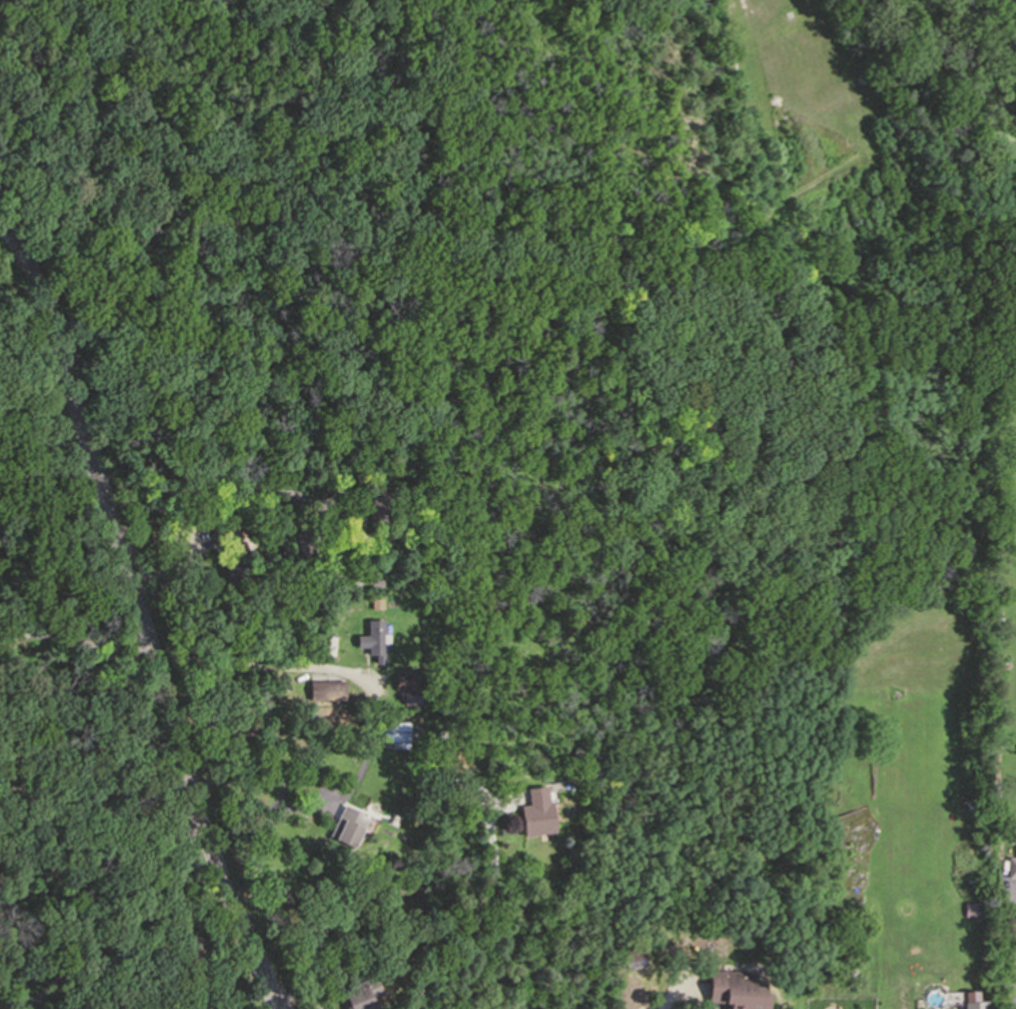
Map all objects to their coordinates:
road: (234, 492)
building: (377, 508)
building: (282, 522)
building: (222, 532)
building: (245, 539)
building: (304, 544)
road: (189, 560)
building: (235, 562)
road: (135, 616)
building: (994, 626)
road: (75, 640)
building: (371, 641)
road: (265, 665)
building: (406, 687)
building: (326, 689)
building: (393, 730)
building: (455, 760)
road: (303, 808)
building: (535, 812)
road: (97, 820)
building: (346, 824)
building: (1010, 865)
road: (476, 910)
road: (122, 949)
road: (1011, 950)
building: (633, 959)
building: (415, 979)
building: (737, 989)
road: (670, 992)
building: (358, 994)
building: (974, 1007)

